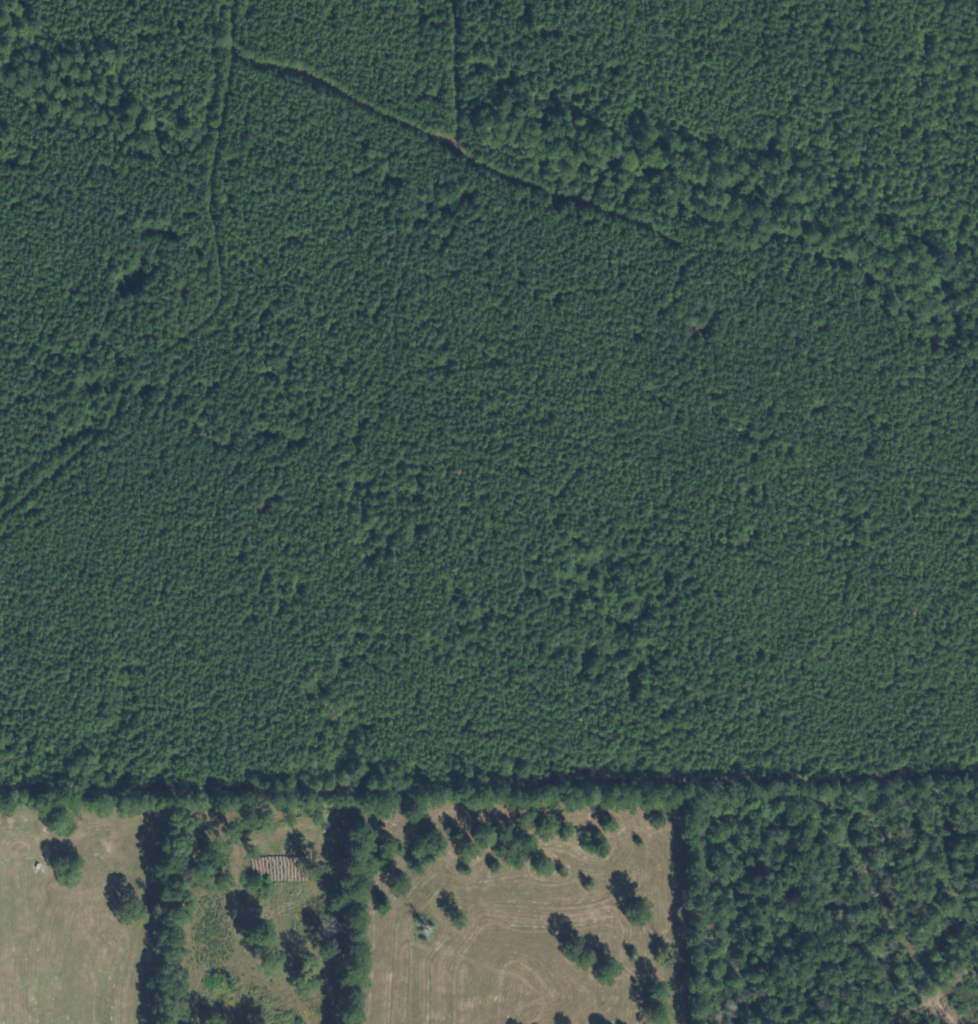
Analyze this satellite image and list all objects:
road: (227, 76)
road: (97, 137)
road: (144, 297)
road: (723, 593)
road: (83, 594)

